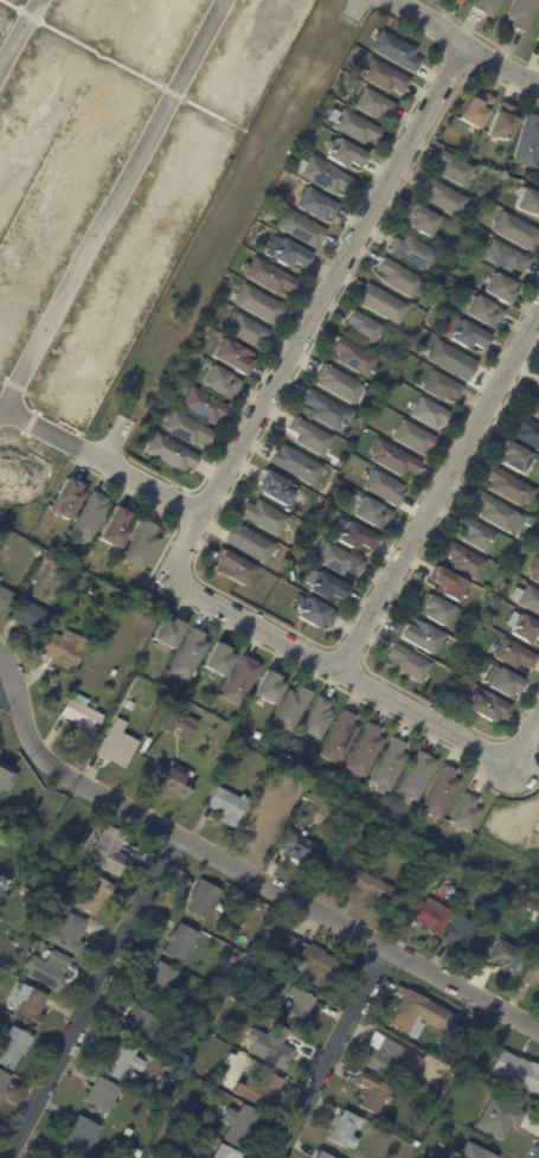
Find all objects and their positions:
building: (461, 0)
building: (466, 0)
road: (14, 5)
building: (489, 6)
building: (522, 13)
road: (33, 14)
road: (481, 36)
road: (20, 39)
road: (462, 43)
building: (397, 51)
road: (103, 56)
building: (386, 76)
road: (175, 92)
building: (377, 104)
building: (479, 110)
road: (217, 114)
building: (503, 122)
building: (357, 124)
building: (528, 141)
building: (346, 153)
building: (455, 169)
building: (326, 175)
building: (445, 198)
building: (528, 201)
building: (319, 203)
road: (117, 204)
building: (423, 219)
building: (302, 228)
building: (518, 230)
building: (417, 252)
building: (291, 254)
building: (507, 256)
building: (450, 262)
building: (270, 275)
building: (400, 277)
building: (226, 282)
building: (500, 287)
building: (261, 303)
building: (385, 305)
road: (316, 309)
building: (485, 311)
building: (365, 327)
building: (250, 331)
building: (473, 335)
building: (233, 356)
building: (357, 356)
building: (454, 360)
building: (184, 372)
building: (222, 382)
building: (537, 382)
building: (340, 383)
building: (444, 385)
building: (533, 402)
building: (204, 405)
building: (329, 410)
building: (430, 411)
road: (4, 412)
building: (190, 429)
building: (526, 433)
building: (313, 436)
building: (415, 436)
building: (172, 452)
building: (394, 458)
building: (511, 458)
road: (105, 462)
building: (299, 465)
building: (507, 486)
building: (277, 487)
building: (386, 487)
road: (439, 492)
building: (69, 498)
building: (492, 511)
building: (373, 512)
building: (92, 516)
building: (267, 517)
building: (528, 522)
building: (118, 526)
building: (474, 535)
building: (358, 536)
building: (251, 542)
building: (537, 544)
building: (145, 546)
building: (342, 559)
building: (462, 561)
building: (237, 568)
building: (533, 570)
building: (60, 575)
building: (296, 576)
building: (445, 584)
building: (331, 586)
building: (94, 591)
building: (5, 597)
building: (528, 601)
building: (434, 610)
building: (316, 613)
building: (32, 616)
building: (524, 629)
building: (171, 632)
building: (417, 636)
building: (68, 651)
building: (190, 655)
building: (513, 655)
building: (222, 659)
building: (405, 663)
road: (5, 670)
building: (115, 673)
road: (342, 674)
building: (242, 682)
building: (500, 683)
building: (271, 686)
building: (131, 704)
building: (486, 706)
building: (291, 708)
building: (84, 716)
building: (317, 716)
building: (182, 727)
building: (339, 736)
building: (120, 744)
road: (527, 744)
building: (364, 748)
building: (389, 764)
building: (417, 774)
building: (5, 776)
building: (174, 780)
building: (441, 789)
building: (271, 799)
building: (229, 805)
building: (466, 811)
building: (263, 825)
building: (65, 846)
building: (302, 849)
building: (110, 851)
building: (441, 856)
road: (239, 870)
building: (336, 870)
building: (5, 884)
building: (490, 888)
building: (376, 889)
building: (26, 891)
building: (96, 894)
building: (205, 898)
building: (532, 907)
building: (430, 913)
building: (70, 933)
building: (463, 934)
building: (493, 941)
building: (181, 942)
building: (505, 955)
building: (306, 958)
building: (236, 959)
building: (50, 968)
building: (230, 970)
building: (532, 973)
building: (161, 983)
building: (188, 993)
road: (96, 998)
building: (32, 1004)
building: (302, 1009)
building: (224, 1011)
building: (426, 1017)
building: (146, 1025)
building: (15, 1047)
building: (284, 1049)
road: (332, 1054)
building: (124, 1058)
building: (180, 1058)
building: (393, 1060)
building: (458, 1060)
building: (473, 1068)
building: (518, 1073)
building: (4, 1080)
building: (162, 1081)
building: (195, 1082)
building: (263, 1088)
building: (148, 1090)
building: (376, 1092)
building: (104, 1094)
building: (437, 1100)
building: (500, 1119)
building: (244, 1125)
building: (347, 1128)
building: (128, 1132)
building: (82, 1134)
building: (443, 1141)
building: (172, 1144)
building: (136, 1152)
building: (229, 1152)
building: (486, 1153)
building: (326, 1154)
building: (54, 1157)
building: (57, 1157)

